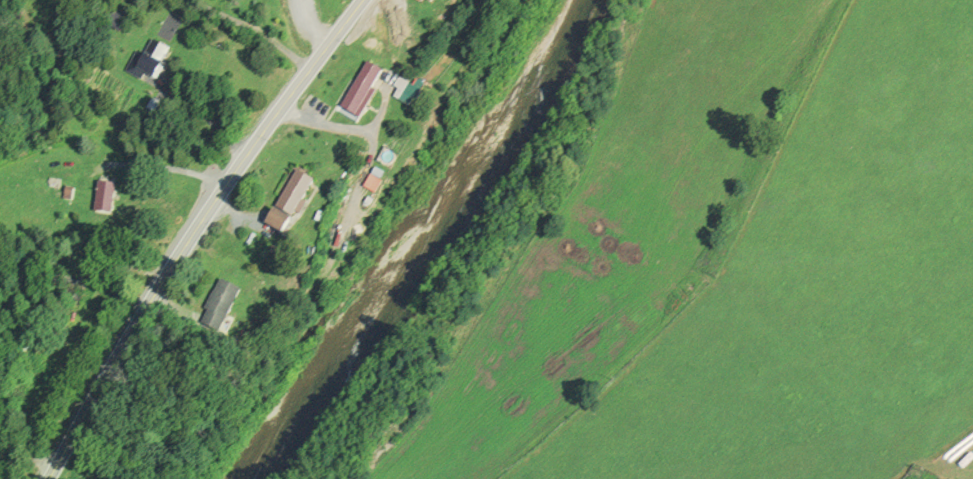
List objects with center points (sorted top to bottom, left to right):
building: (431, 1)
building: (438, 1)
road: (310, 27)
building: (155, 59)
building: (363, 89)
building: (409, 93)
road: (167, 166)
building: (377, 180)
building: (298, 191)
building: (71, 195)
building: (106, 197)
building: (282, 221)
road: (195, 231)
river: (430, 246)
building: (73, 288)
crop: (823, 288)
building: (220, 303)

